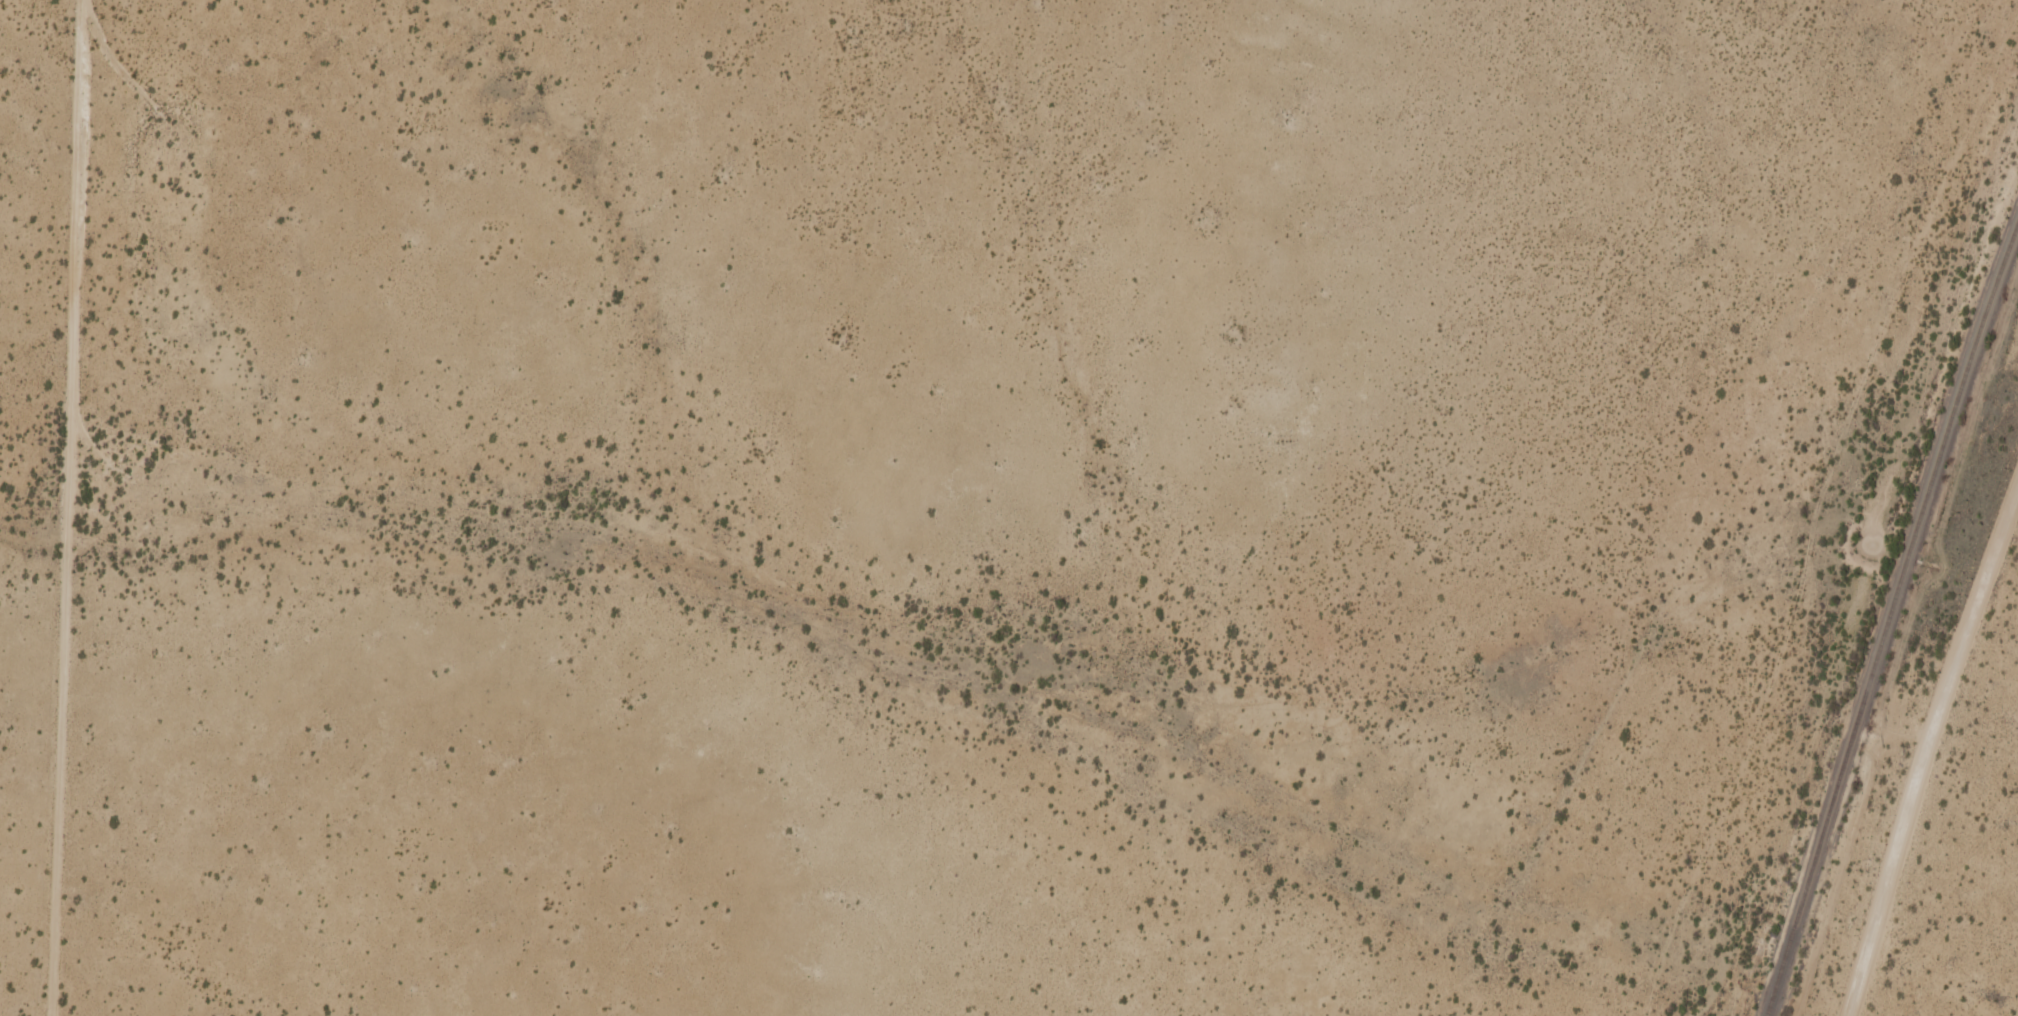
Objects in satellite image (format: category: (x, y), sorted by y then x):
railway: (1891, 615)
road: (1927, 749)

